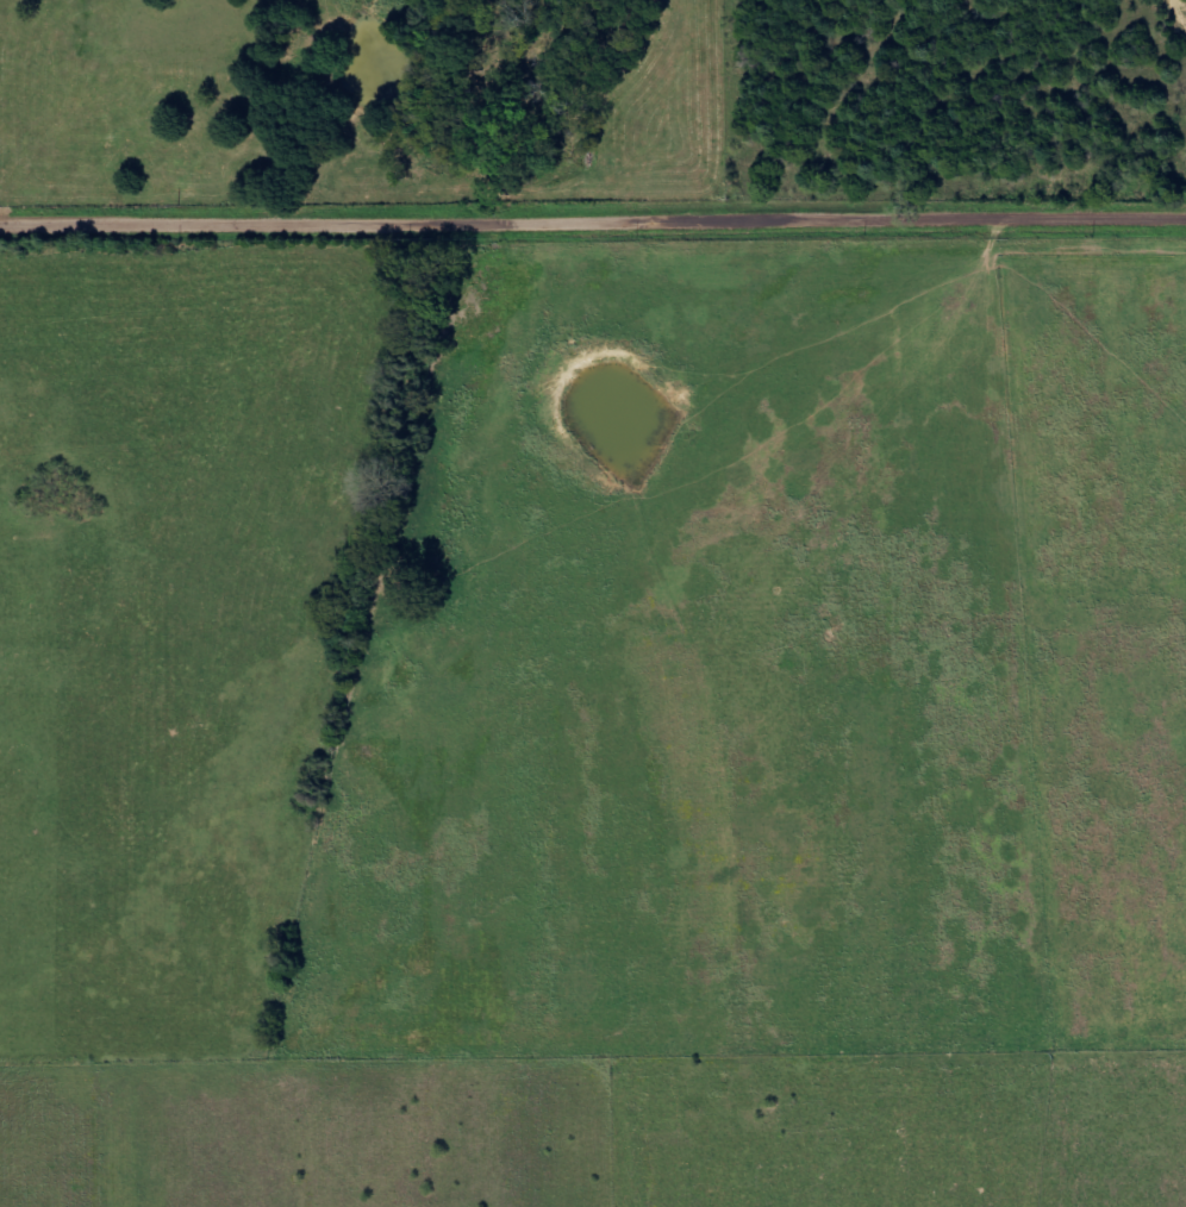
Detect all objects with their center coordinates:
road: (841, 219)
road: (248, 223)

